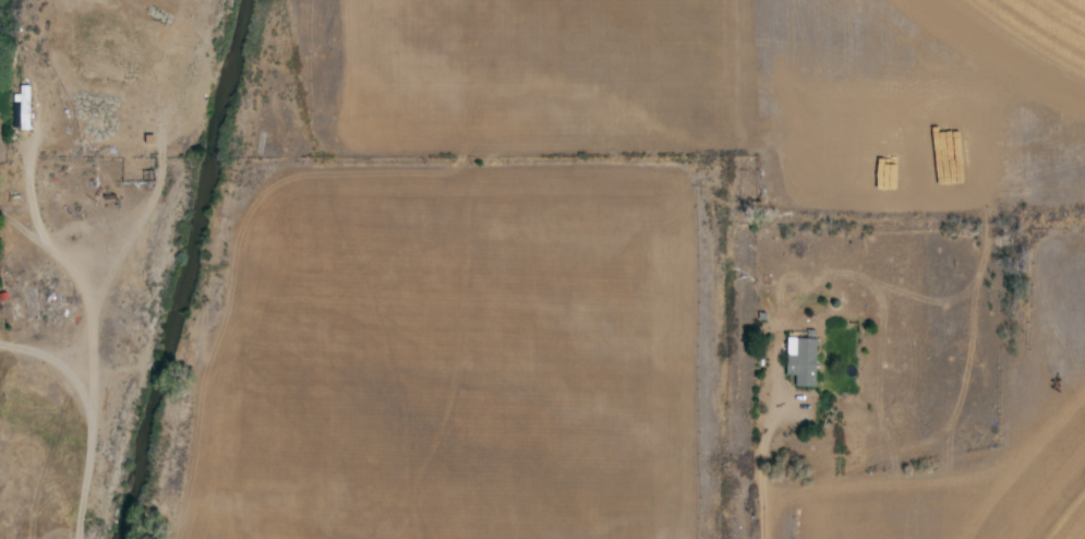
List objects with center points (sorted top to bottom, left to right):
building: (23, 109)
crop: (602, 261)
road: (61, 272)
building: (810, 364)
road: (76, 418)
road: (752, 453)

